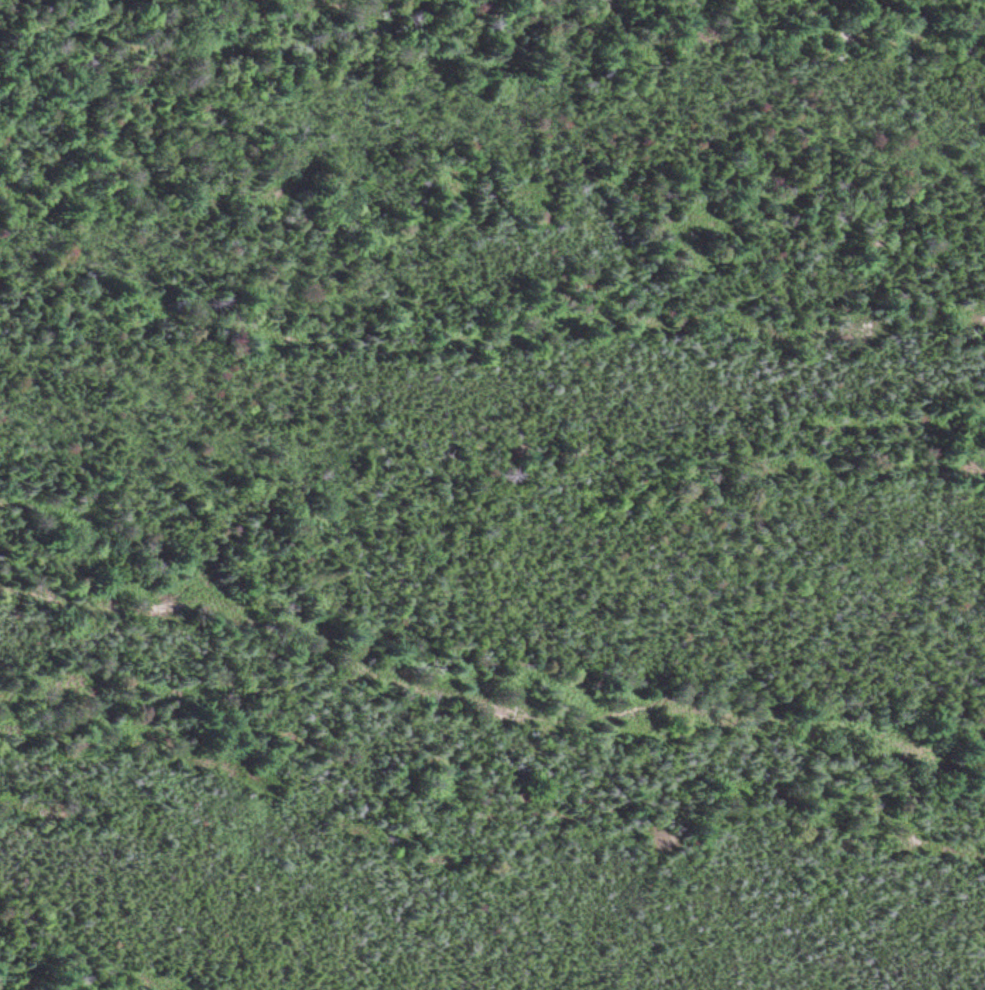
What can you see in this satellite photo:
road: (483, 706)

